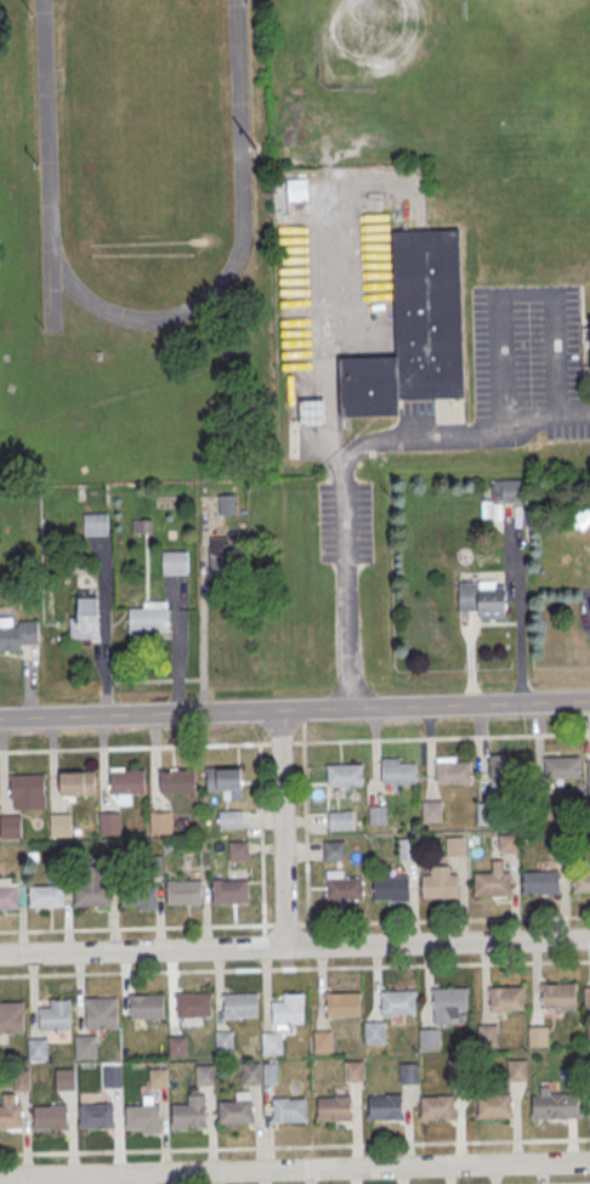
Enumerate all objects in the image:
building: (296, 189)
road: (517, 298)
building: (413, 330)
parking lot: (523, 347)
building: (313, 412)
road: (348, 460)
building: (512, 492)
building: (227, 505)
building: (96, 525)
building: (141, 526)
building: (220, 555)
building: (175, 563)
building: (482, 599)
road: (521, 604)
building: (86, 621)
building: (149, 622)
road: (204, 624)
road: (104, 625)
building: (18, 635)
road: (178, 645)
road: (470, 659)
road: (30, 682)
road: (295, 713)
road: (294, 741)
building: (562, 769)
building: (509, 771)
building: (399, 772)
building: (453, 774)
building: (345, 776)
building: (589, 777)
building: (225, 781)
building: (127, 782)
building: (177, 783)
building: (78, 786)
building: (28, 792)
building: (432, 814)
building: (486, 814)
building: (379, 816)
building: (229, 818)
building: (341, 822)
building: (161, 823)
building: (110, 825)
building: (62, 827)
building: (11, 828)
road: (280, 829)
road: (305, 829)
road: (260, 838)
building: (509, 845)
building: (557, 845)
building: (455, 848)
building: (238, 850)
building: (335, 851)
building: (408, 852)
building: (582, 883)
building: (540, 884)
building: (492, 885)
building: (441, 888)
building: (345, 890)
building: (392, 890)
building: (185, 893)
building: (231, 893)
building: (93, 895)
building: (138, 895)
building: (47, 896)
building: (8, 899)
road: (295, 923)
road: (263, 941)
road: (294, 947)
road: (295, 968)
building: (558, 996)
building: (506, 997)
building: (588, 997)
building: (450, 999)
building: (398, 1002)
building: (342, 1003)
building: (193, 1004)
building: (146, 1005)
building: (242, 1005)
building: (288, 1008)
building: (101, 1013)
building: (55, 1014)
building: (11, 1016)
building: (375, 1032)
building: (589, 1036)
building: (488, 1037)
building: (539, 1037)
building: (429, 1039)
building: (324, 1042)
building: (272, 1043)
building: (226, 1044)
building: (178, 1047)
building: (85, 1048)
building: (38, 1049)
building: (353, 1071)
building: (458, 1071)
building: (517, 1071)
building: (251, 1072)
building: (270, 1072)
building: (409, 1075)
building: (206, 1076)
building: (113, 1078)
building: (22, 1080)
building: (159, 1080)
building: (66, 1081)
building: (555, 1106)
building: (495, 1107)
building: (589, 1107)
building: (385, 1109)
building: (438, 1109)
building: (335, 1110)
building: (290, 1112)
building: (237, 1114)
building: (97, 1116)
building: (11, 1117)
building: (143, 1117)
building: (189, 1117)
building: (51, 1118)
road: (295, 1148)
road: (295, 1171)

